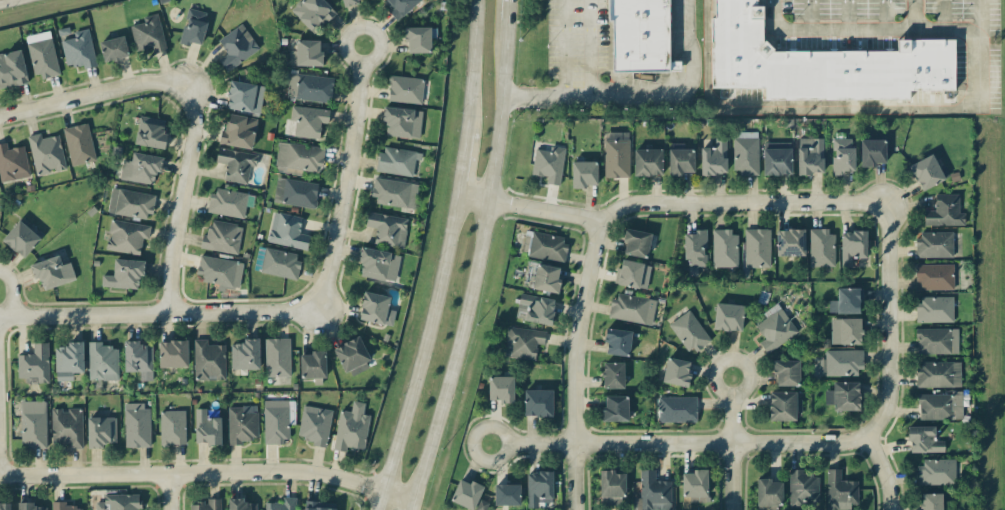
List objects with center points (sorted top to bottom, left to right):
road: (4, 0)
building: (348, 2)
building: (400, 6)
road: (506, 12)
building: (313, 13)
building: (193, 27)
building: (148, 34)
building: (638, 35)
building: (417, 39)
building: (236, 47)
building: (113, 48)
building: (78, 49)
building: (306, 54)
building: (42, 55)
building: (820, 63)
road: (471, 64)
building: (12, 69)
road: (569, 82)
building: (309, 87)
building: (405, 89)
road: (89, 95)
building: (244, 97)
road: (674, 97)
road: (850, 107)
building: (308, 121)
building: (402, 122)
building: (239, 131)
building: (150, 132)
building: (78, 144)
building: (872, 152)
building: (46, 153)
building: (745, 153)
building: (616, 154)
building: (810, 155)
building: (299, 156)
building: (842, 156)
building: (714, 158)
building: (776, 158)
building: (397, 161)
building: (680, 161)
road: (460, 162)
building: (647, 162)
building: (12, 163)
building: (236, 164)
building: (548, 164)
building: (140, 168)
building: (927, 172)
building: (583, 174)
road: (346, 176)
building: (295, 192)
building: (393, 192)
road: (180, 197)
building: (227, 202)
building: (130, 203)
road: (737, 204)
road: (526, 209)
building: (944, 211)
building: (387, 229)
building: (287, 231)
building: (126, 236)
building: (222, 237)
building: (20, 239)
building: (790, 242)
building: (636, 243)
building: (543, 246)
building: (852, 246)
building: (724, 248)
building: (756, 248)
building: (821, 248)
building: (694, 250)
building: (279, 263)
building: (378, 264)
road: (474, 265)
building: (219, 270)
building: (52, 272)
building: (124, 274)
building: (633, 274)
building: (934, 276)
building: (546, 278)
building: (846, 301)
building: (535, 308)
building: (632, 308)
building: (376, 309)
building: (934, 309)
road: (158, 312)
building: (728, 317)
road: (885, 322)
building: (774, 328)
building: (845, 331)
building: (688, 332)
road: (575, 333)
building: (617, 341)
building: (937, 341)
building: (522, 342)
building: (172, 353)
road: (420, 353)
building: (245, 354)
building: (353, 356)
building: (277, 357)
building: (138, 359)
building: (68, 360)
building: (102, 361)
building: (208, 361)
building: (840, 363)
building: (34, 364)
building: (313, 364)
building: (676, 372)
building: (786, 372)
road: (713, 374)
building: (938, 374)
building: (612, 375)
building: (501, 389)
building: (843, 396)
building: (538, 403)
building: (783, 406)
building: (940, 406)
building: (614, 409)
building: (676, 409)
building: (277, 420)
building: (33, 423)
building: (241, 423)
building: (314, 424)
building: (137, 425)
building: (66, 427)
building: (172, 427)
building: (206, 428)
building: (351, 428)
building: (100, 431)
building: (923, 440)
road: (633, 443)
road: (881, 470)
building: (936, 471)
road: (208, 472)
road: (731, 476)
road: (574, 477)
building: (694, 486)
building: (538, 488)
building: (611, 488)
building: (802, 488)
building: (840, 490)
road: (169, 492)
building: (652, 492)
building: (466, 493)
building: (507, 494)
building: (768, 494)
building: (931, 501)
building: (119, 502)
building: (240, 504)
building: (281, 504)
building: (207, 505)
building: (318, 505)
building: (481, 505)
building: (5, 506)
building: (29, 506)
building: (62, 506)
road: (410, 506)

